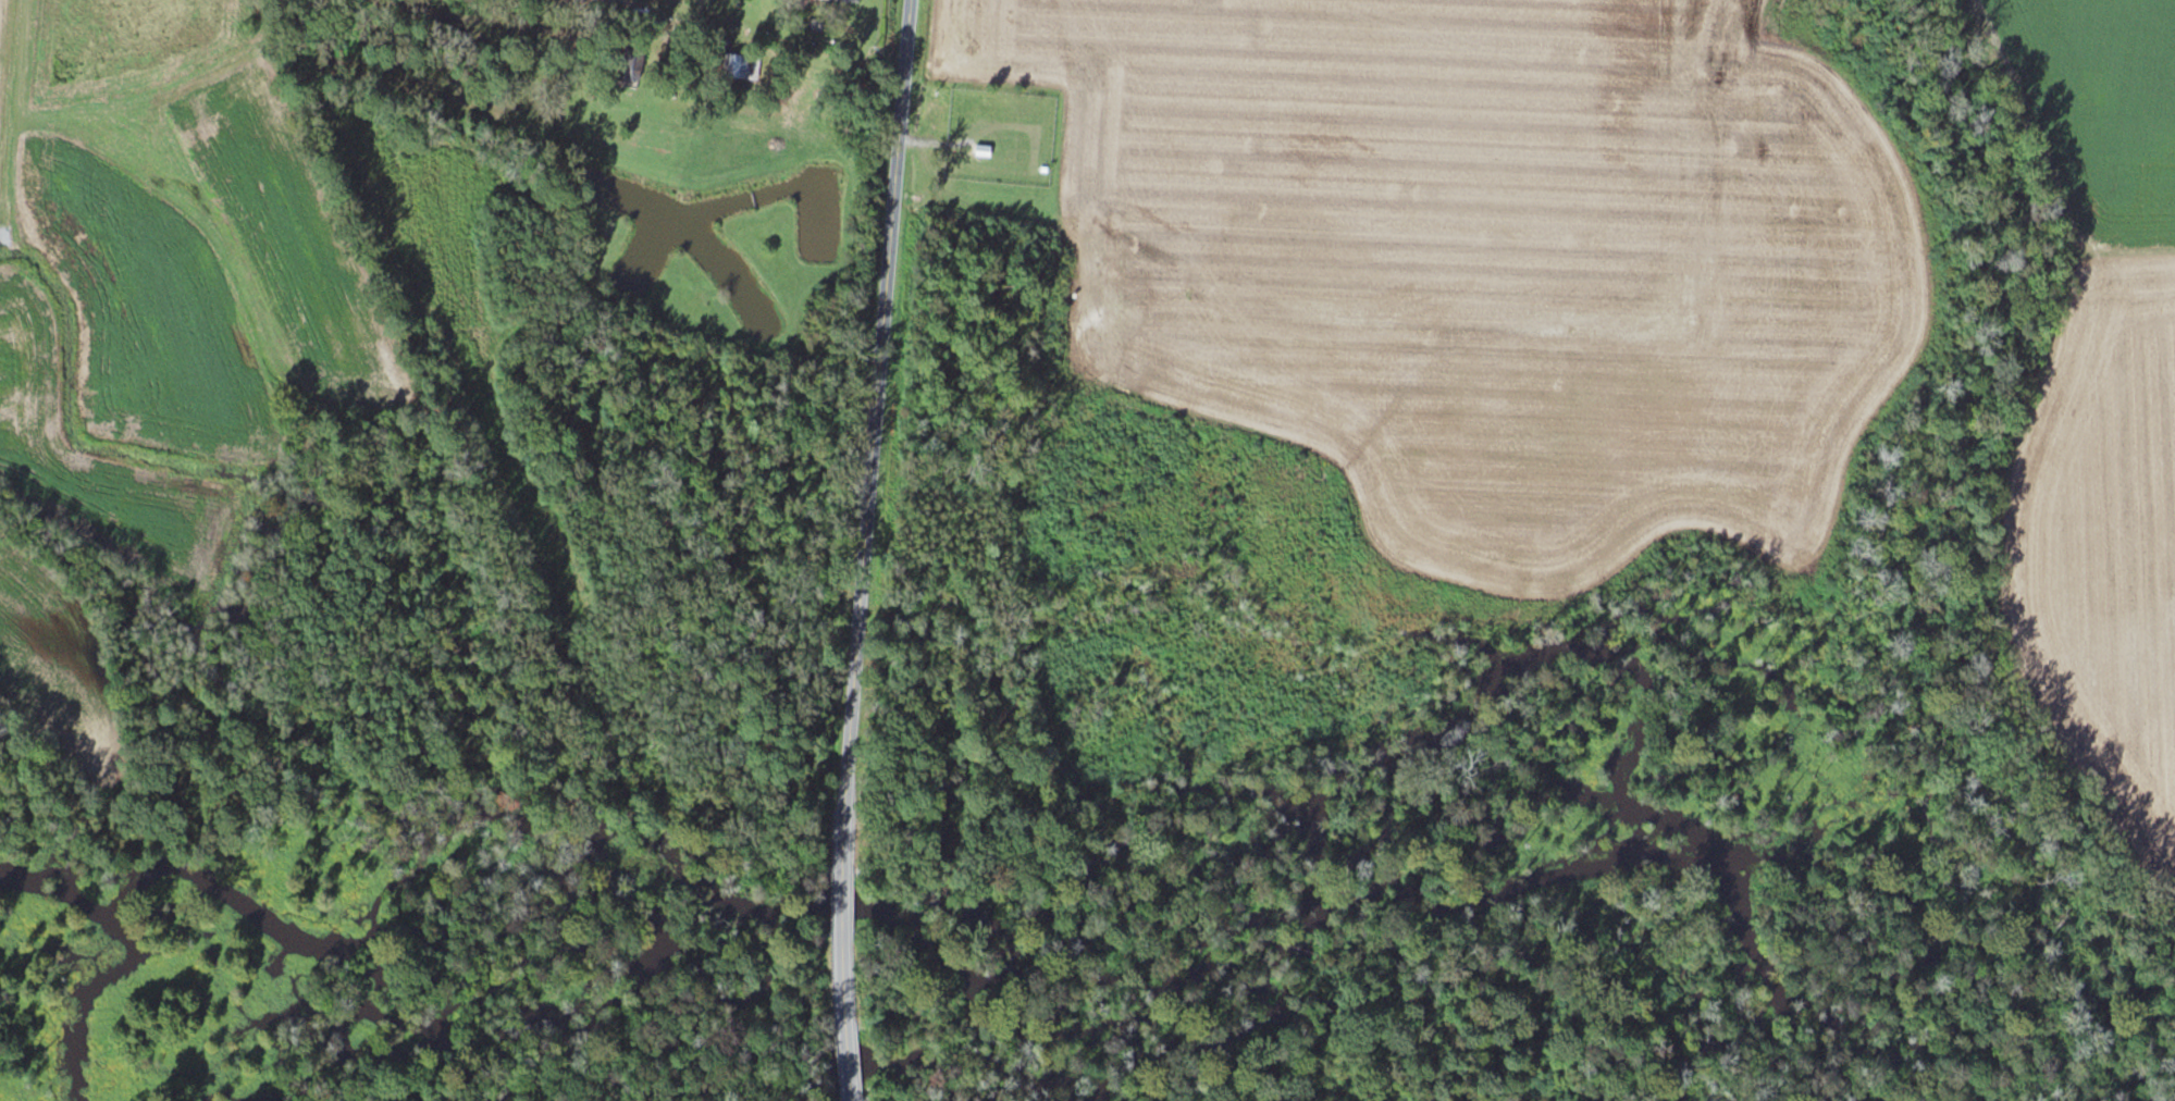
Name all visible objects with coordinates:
building: (743, 66)
building: (986, 150)
road: (876, 441)
road: (852, 992)
building: (850, 1067)

